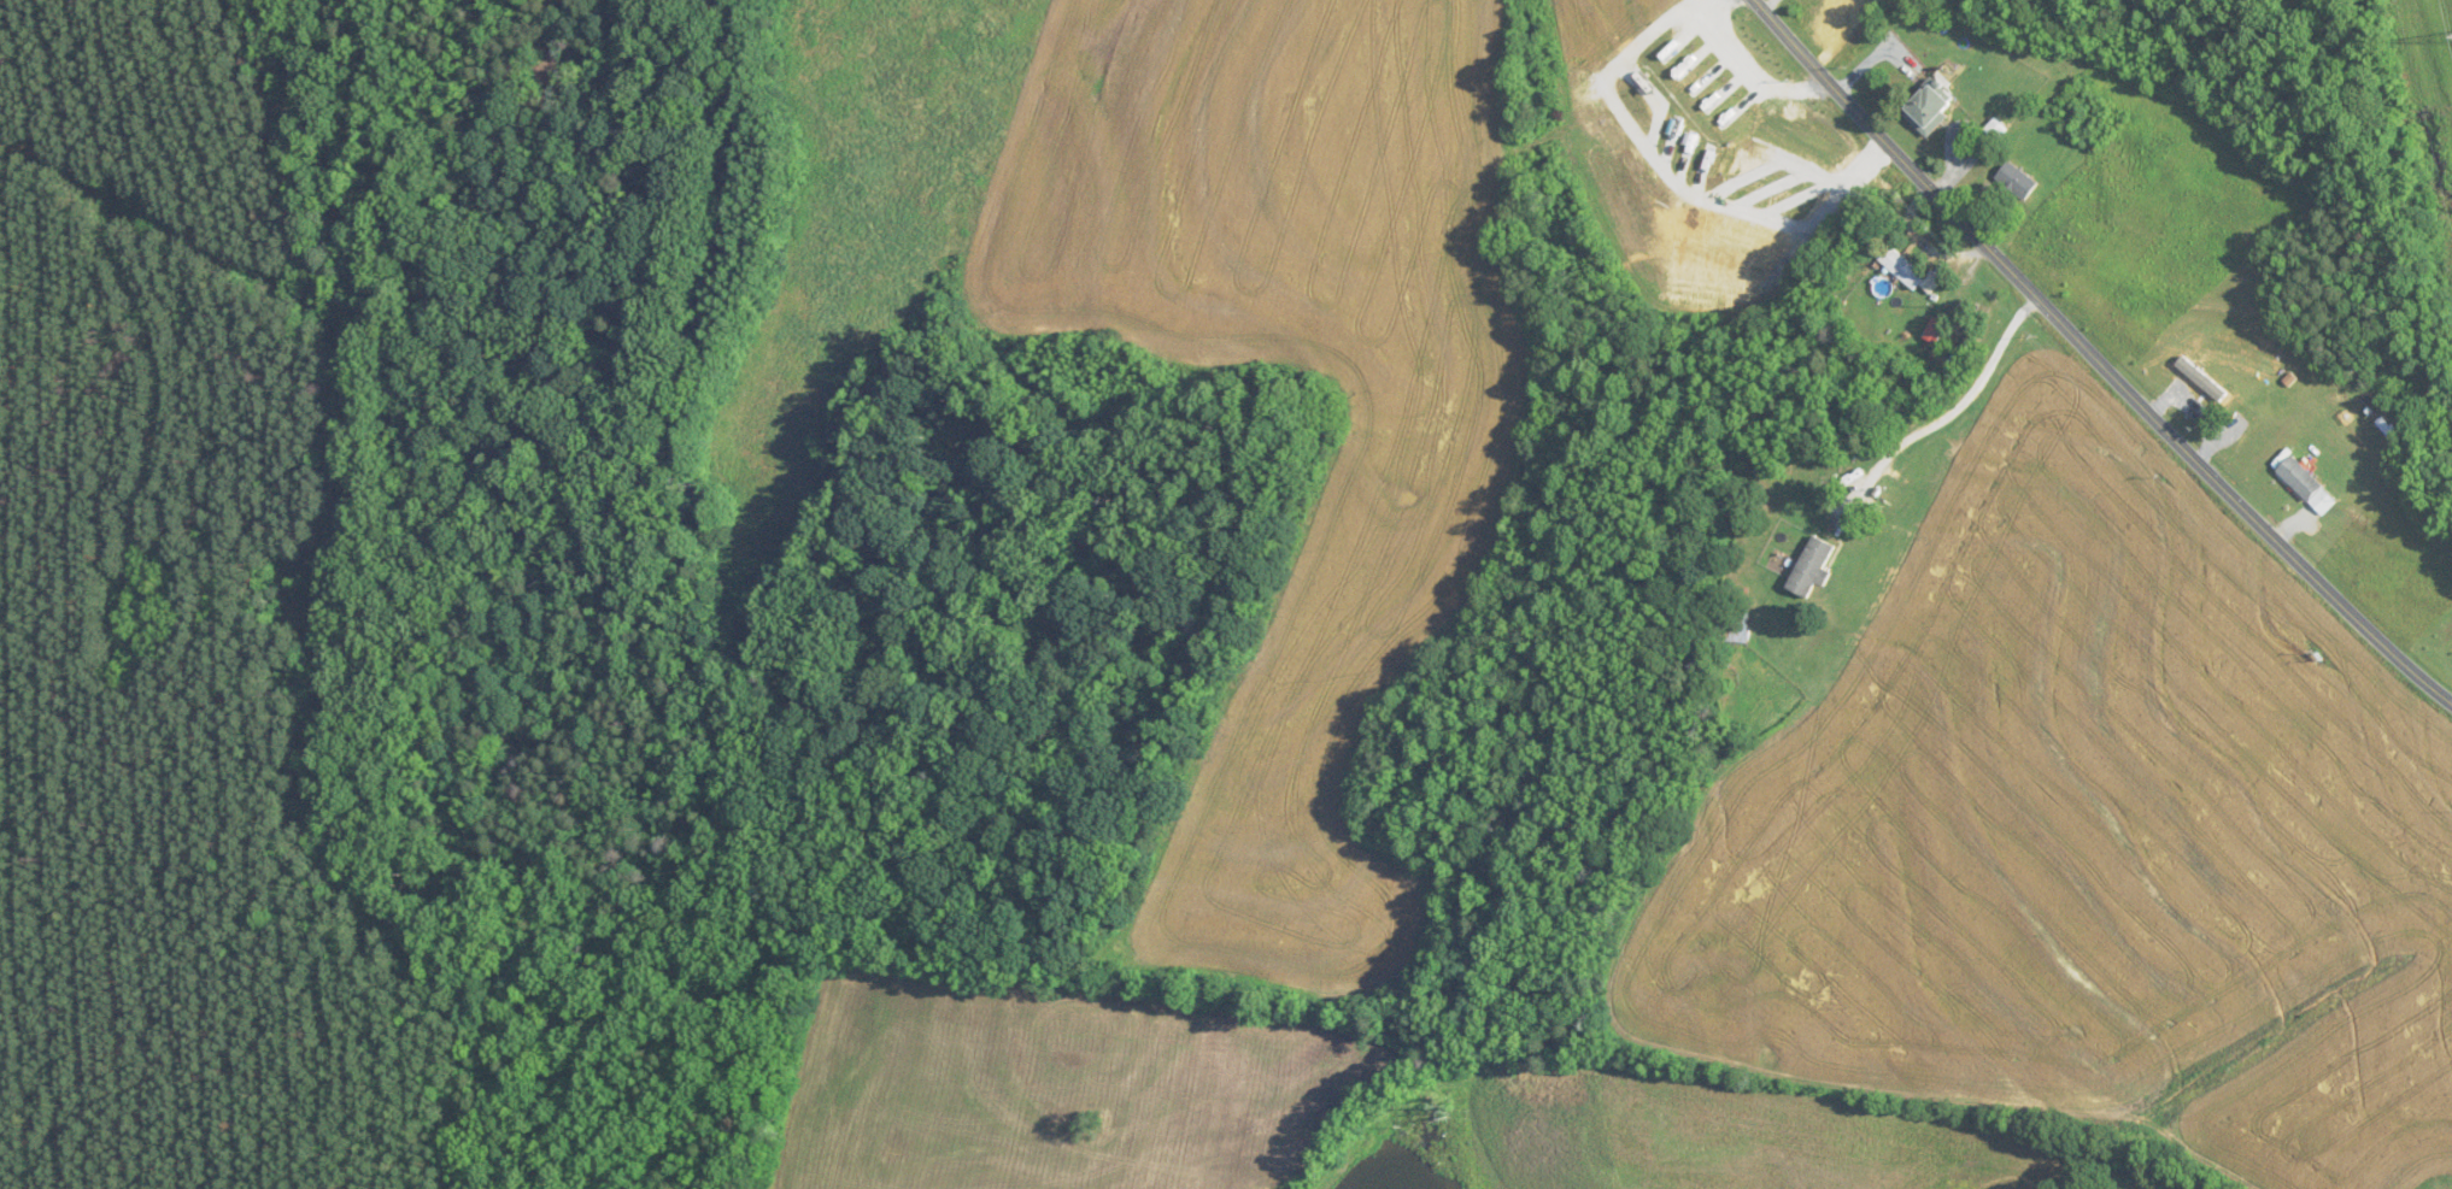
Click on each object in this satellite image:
road: (1767, 4)
road: (1762, 73)
building: (1930, 110)
building: (1996, 130)
road: (1682, 181)
building: (2017, 181)
building: (1902, 269)
building: (1934, 334)
road: (2096, 358)
road: (1964, 405)
building: (2301, 478)
building: (1813, 567)
building: (1734, 624)

